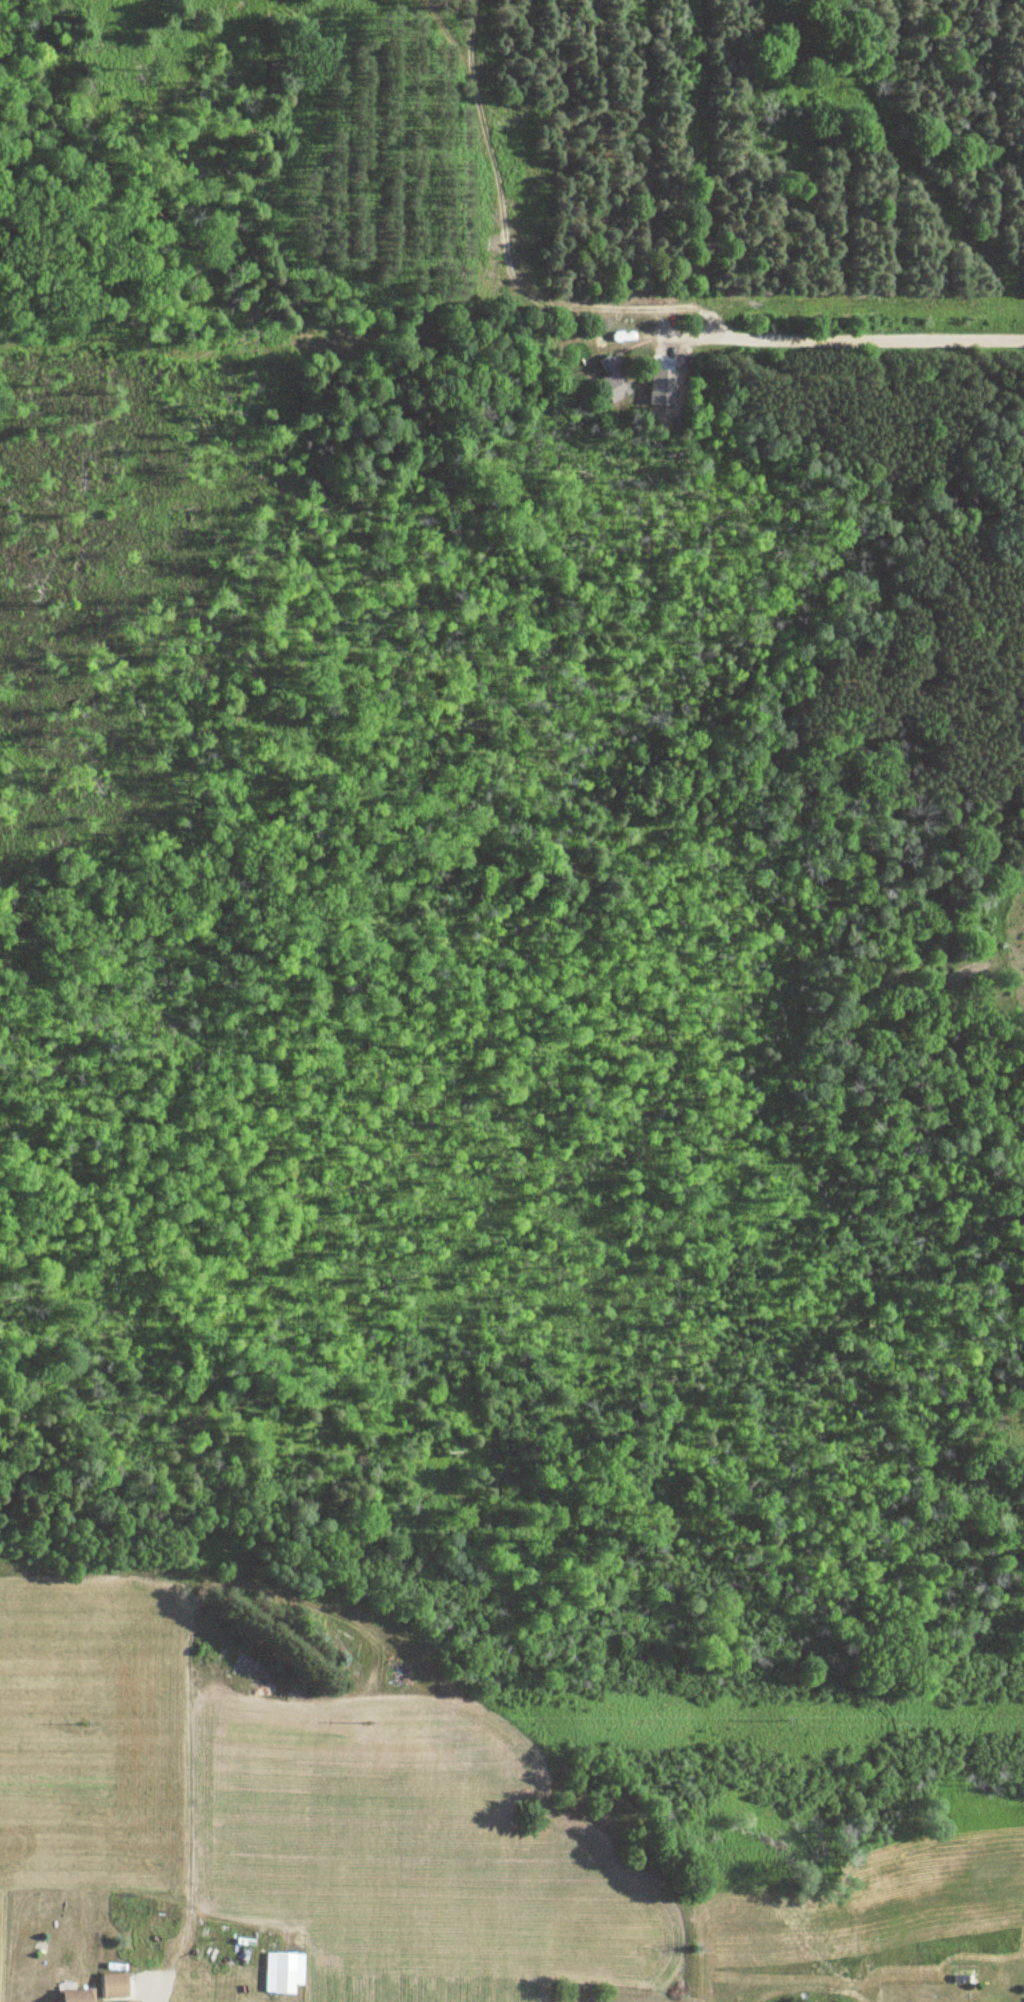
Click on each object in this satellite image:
road: (867, 338)
building: (289, 1972)
building: (117, 1983)
road: (154, 1993)
building: (65, 1996)

